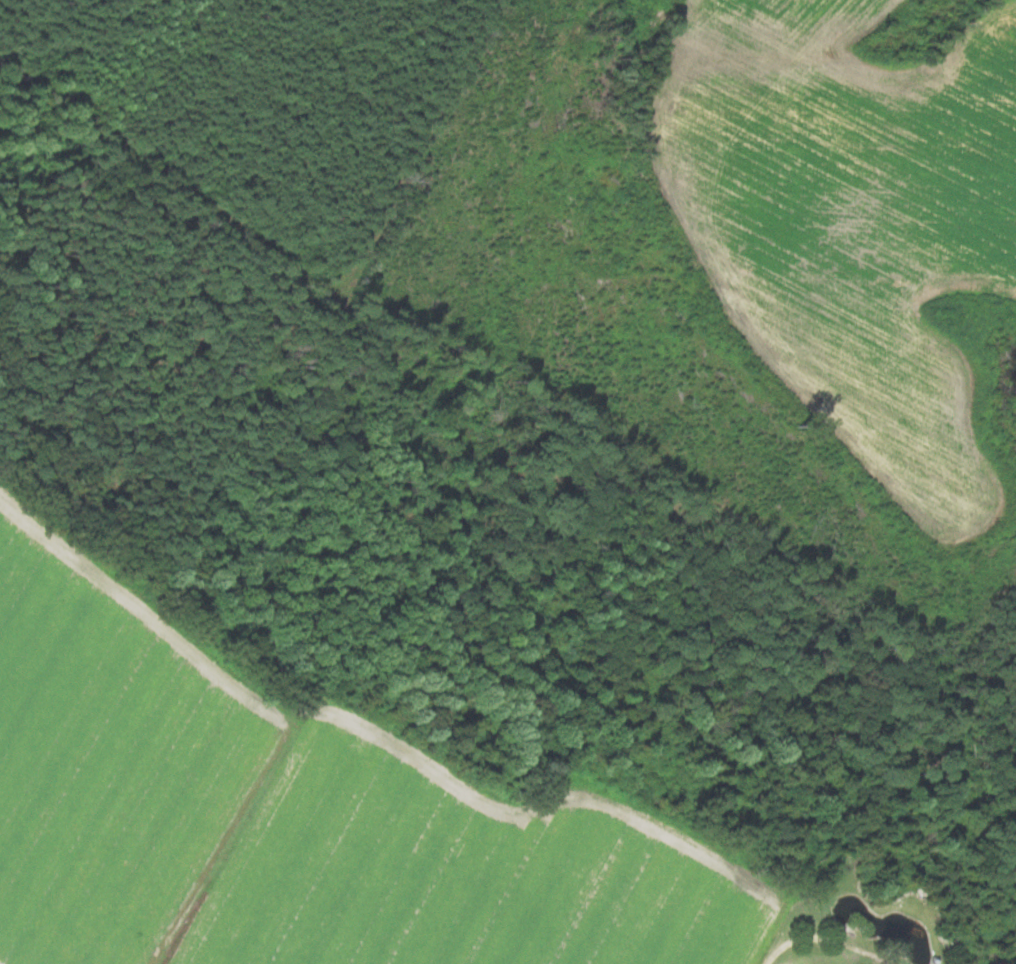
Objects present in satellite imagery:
road: (814, 937)

